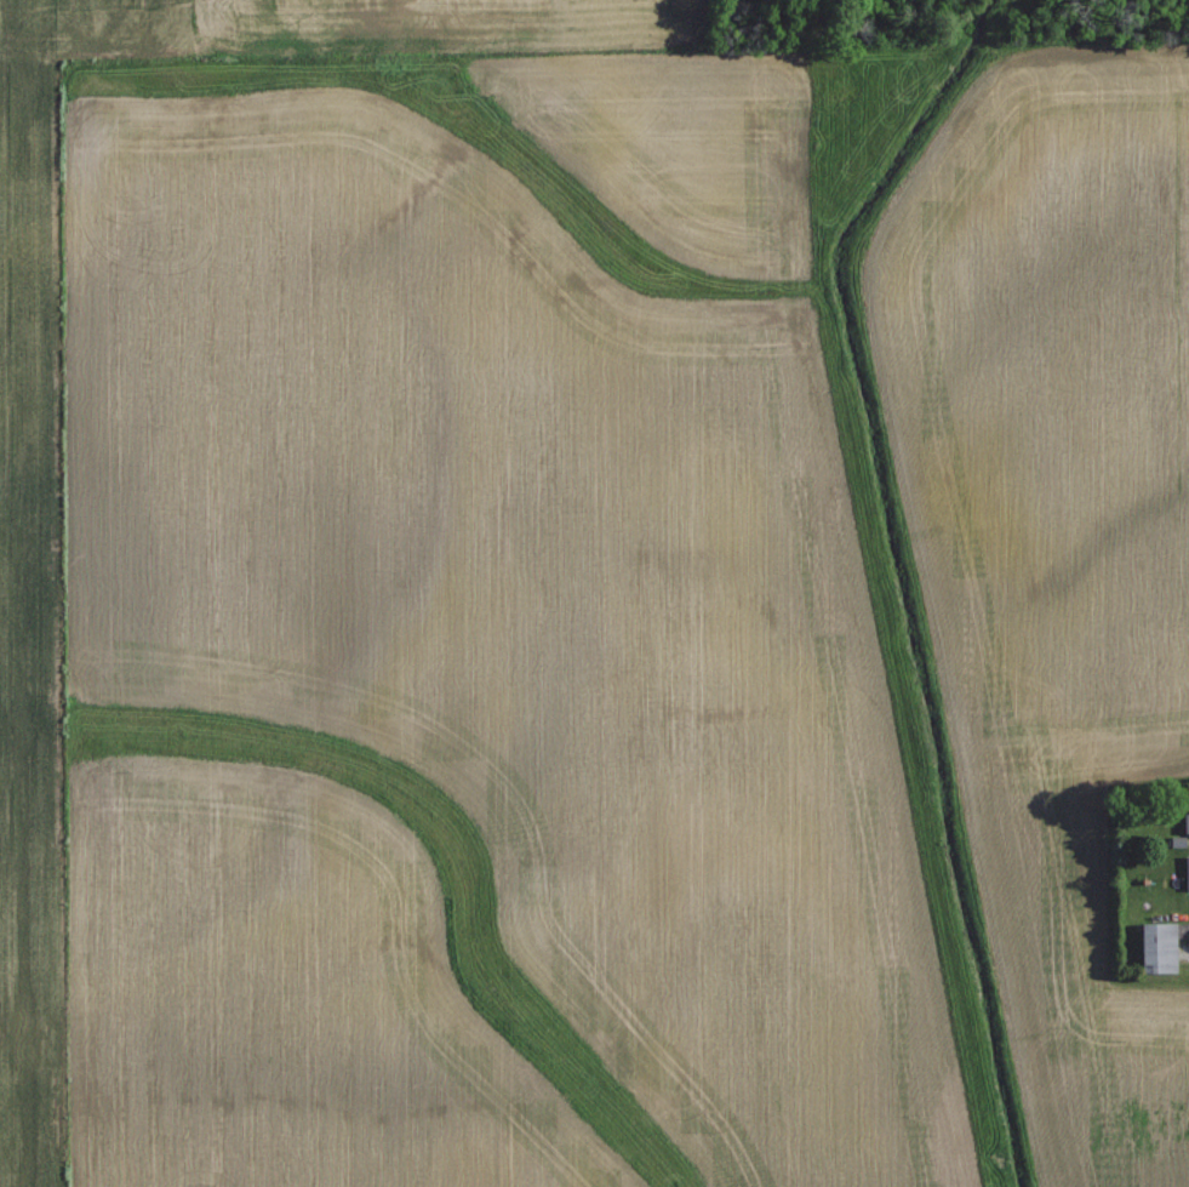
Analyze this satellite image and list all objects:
building: (1185, 822)
building: (1187, 872)
building: (1156, 947)

